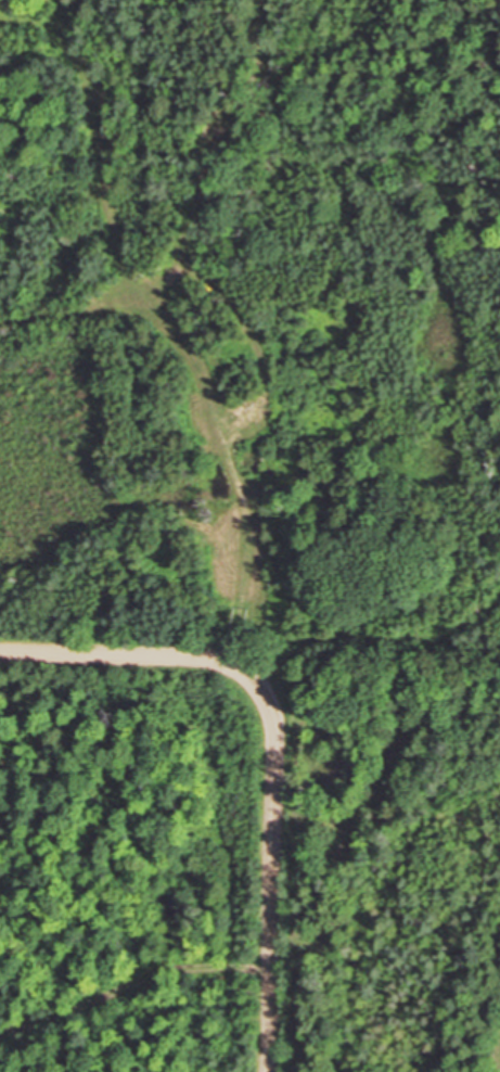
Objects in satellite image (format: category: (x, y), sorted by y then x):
road: (275, 739)

